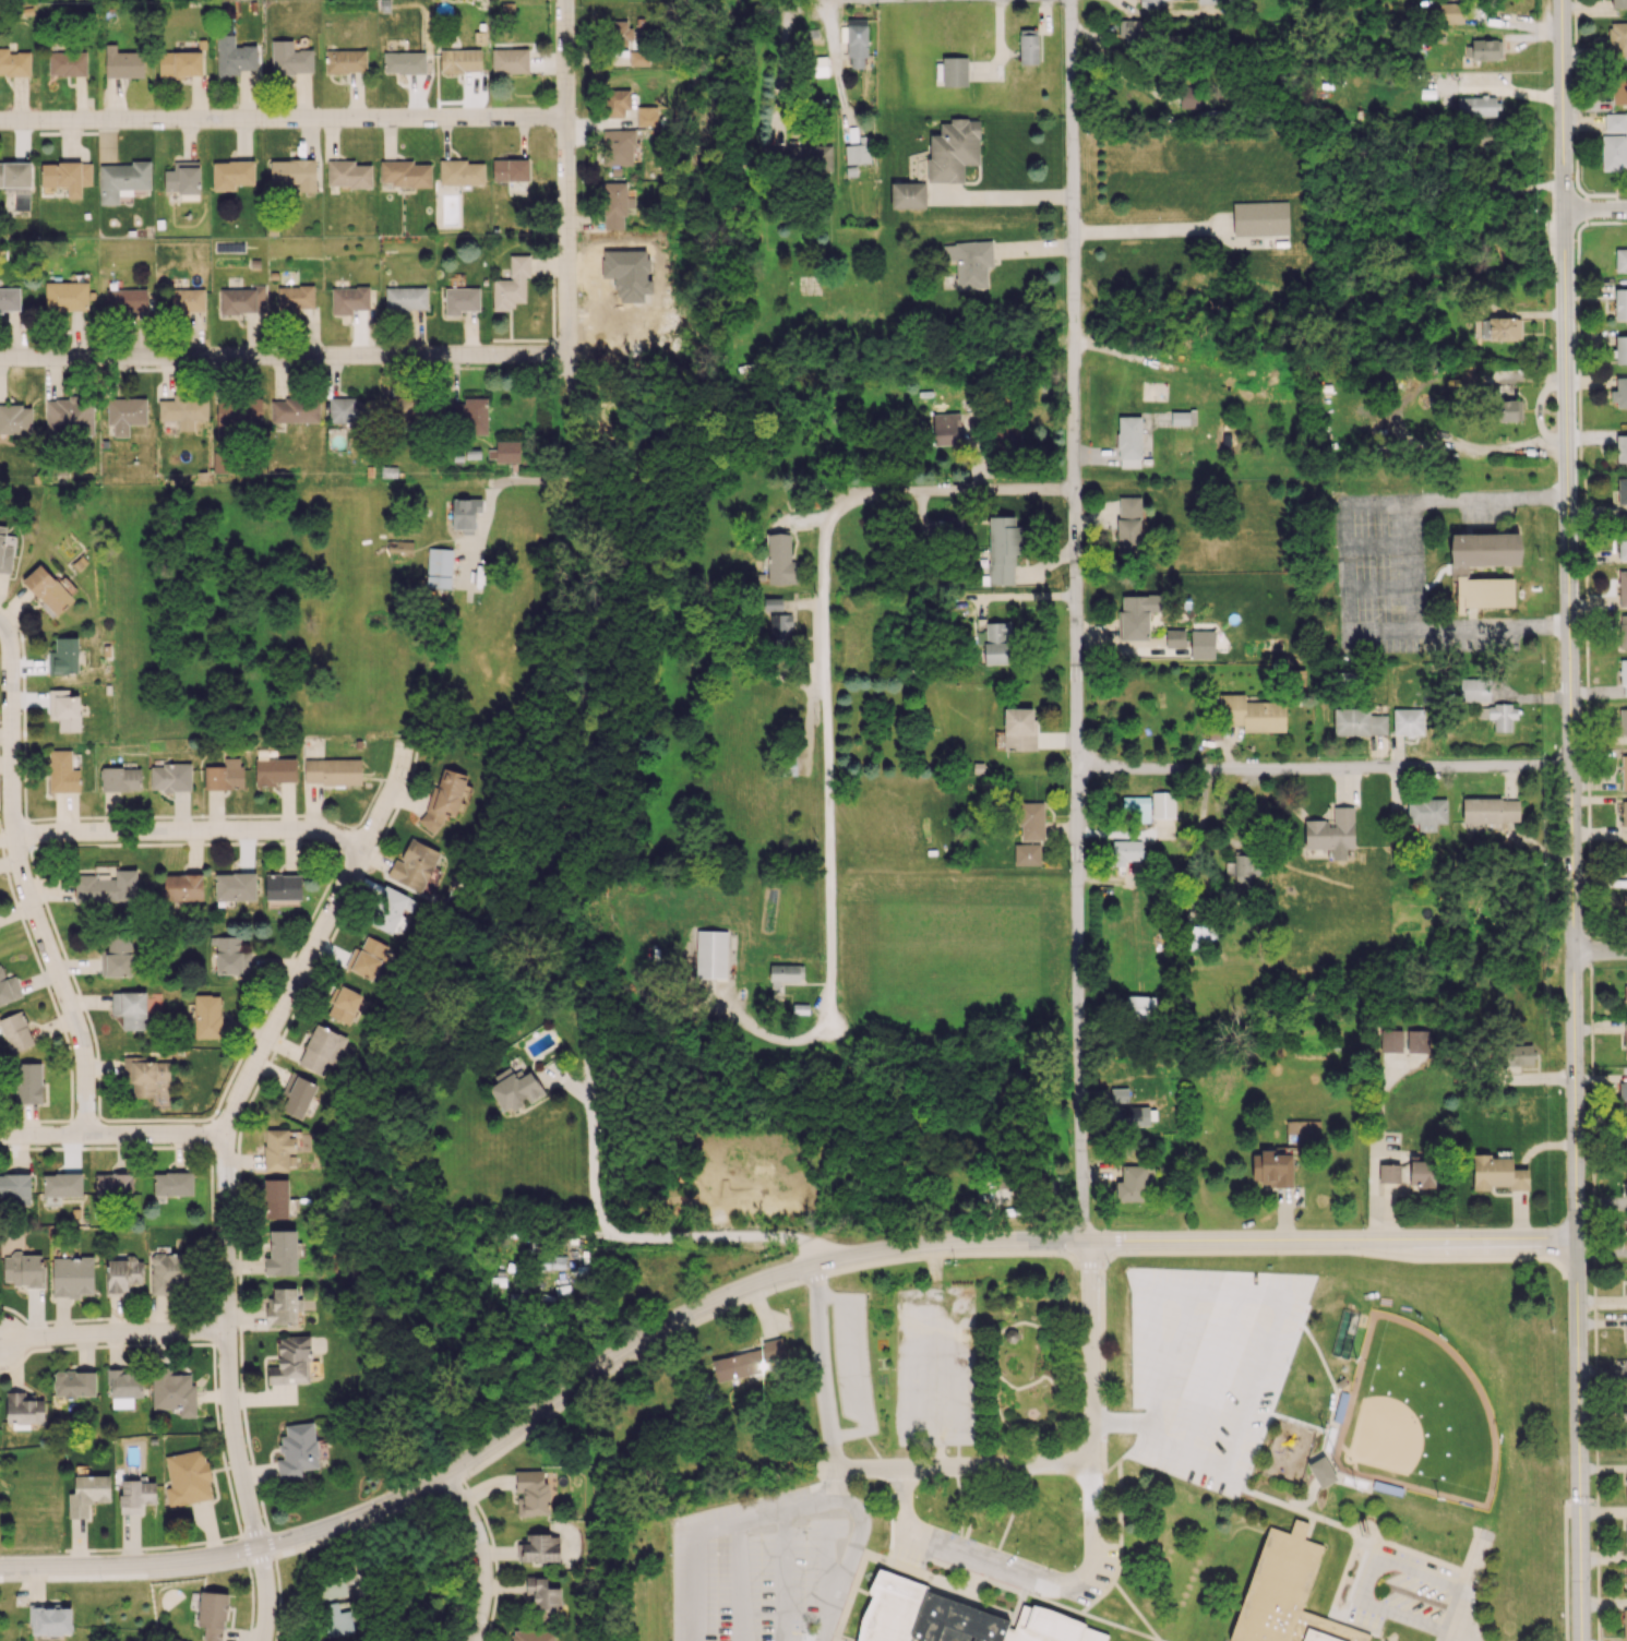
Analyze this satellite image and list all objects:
road: (884, 0)
road: (904, 0)
building: (1209, 1)
building: (1151, 3)
building: (1618, 3)
building: (1449, 12)
building: (1129, 29)
building: (619, 34)
building: (1617, 39)
building: (856, 43)
building: (1027, 46)
building: (1485, 49)
building: (235, 57)
building: (289, 58)
building: (637, 58)
building: (459, 60)
building: (345, 61)
building: (509, 61)
building: (14, 62)
building: (122, 62)
building: (404, 62)
building: (67, 63)
building: (179, 63)
road: (837, 68)
building: (954, 71)
building: (1618, 86)
building: (1188, 96)
building: (614, 103)
building: (1475, 106)
road: (1564, 107)
building: (649, 116)
road: (283, 120)
building: (1615, 122)
building: (1488, 139)
building: (619, 147)
building: (953, 149)
building: (1613, 152)
building: (857, 153)
building: (809, 156)
building: (510, 169)
building: (294, 172)
building: (460, 172)
building: (231, 173)
building: (347, 173)
building: (404, 173)
building: (15, 176)
building: (65, 176)
building: (182, 177)
building: (121, 179)
road: (1016, 193)
building: (907, 194)
building: (21, 201)
building: (614, 206)
road: (1595, 214)
road: (567, 218)
building: (1259, 218)
road: (1148, 229)
building: (1620, 260)
building: (969, 263)
building: (511, 284)
building: (65, 296)
building: (295, 297)
building: (405, 298)
building: (9, 299)
building: (348, 299)
building: (128, 300)
building: (187, 300)
building: (242, 300)
building: (460, 300)
building: (1620, 303)
building: (1499, 328)
building: (1619, 349)
road: (284, 358)
building: (1619, 393)
building: (1502, 404)
building: (183, 410)
building: (294, 410)
building: (344, 410)
building: (411, 411)
building: (124, 414)
building: (238, 414)
building: (466, 415)
building: (68, 416)
building: (1179, 418)
building: (15, 419)
building: (945, 429)
building: (1005, 435)
building: (1128, 442)
building: (1620, 448)
building: (506, 451)
building: (223, 462)
road: (530, 483)
building: (1622, 491)
road: (847, 506)
building: (465, 514)
building: (952, 523)
building: (1128, 526)
building: (1622, 542)
building: (399, 546)
building: (1002, 549)
building: (5, 550)
building: (779, 559)
road: (1400, 563)
building: (439, 567)
building: (1458, 572)
parking lot: (1405, 575)
building: (1622, 588)
building: (46, 590)
building: (1136, 615)
road: (1078, 621)
building: (775, 622)
building: (1623, 632)
building: (1174, 638)
building: (996, 643)
building: (1201, 644)
building: (63, 657)
building: (1624, 678)
building: (1474, 687)
building: (63, 709)
building: (1251, 714)
building: (1498, 715)
building: (1623, 720)
building: (1408, 721)
building: (1357, 722)
road: (1563, 727)
building: (1019, 729)
building: (274, 770)
road: (1321, 770)
building: (332, 771)
building: (1624, 771)
building: (62, 772)
building: (224, 775)
building: (170, 777)
building: (120, 779)
building: (444, 798)
building: (1162, 804)
building: (1490, 811)
building: (1426, 813)
building: (1624, 813)
building: (1030, 820)
building: (1330, 830)
road: (192, 831)
building: (1125, 851)
building: (1026, 854)
building: (1624, 859)
building: (416, 866)
building: (1242, 867)
road: (829, 882)
road: (27, 883)
building: (235, 886)
building: (283, 886)
building: (106, 887)
building: (182, 887)
building: (1625, 905)
building: (390, 909)
building: (1200, 936)
road: (1598, 951)
building: (227, 954)
building: (710, 954)
building: (117, 957)
building: (368, 957)
building: (783, 973)
building: (8, 989)
building: (1625, 994)
building: (344, 1004)
building: (1140, 1007)
building: (130, 1009)
building: (206, 1016)
building: (15, 1031)
building: (1625, 1040)
building: (1390, 1041)
building: (1416, 1041)
building: (321, 1050)
building: (1518, 1054)
building: (143, 1074)
building: (28, 1082)
building: (514, 1089)
building: (1118, 1094)
building: (1623, 1094)
building: (298, 1095)
building: (1129, 1117)
road: (228, 1134)
building: (1625, 1134)
road: (113, 1137)
building: (278, 1149)
building: (1272, 1166)
building: (1407, 1173)
building: (1497, 1173)
building: (1134, 1183)
building: (172, 1184)
building: (61, 1185)
building: (113, 1185)
building: (1626, 1185)
building: (14, 1187)
building: (275, 1198)
building: (1626, 1234)
road: (1335, 1242)
road: (632, 1244)
building: (282, 1253)
building: (554, 1263)
building: (23, 1269)
building: (165, 1272)
building: (122, 1275)
building: (72, 1277)
building: (1626, 1277)
road: (1283, 1303)
building: (282, 1307)
building: (1626, 1329)
road: (115, 1334)
road: (655, 1335)
road: (1093, 1354)
road: (934, 1358)
building: (291, 1361)
building: (749, 1361)
parking lot: (853, 1364)
parking lot: (934, 1366)
parking lot: (1209, 1367)
road: (1213, 1374)
building: (74, 1384)
building: (124, 1387)
building: (172, 1391)
building: (24, 1409)
park: (1417, 1417)
road: (1121, 1421)
building: (1625, 1433)
road: (1579, 1440)
building: (297, 1450)
road: (865, 1470)
building: (1325, 1472)
building: (187, 1477)
building: (1626, 1484)
building: (531, 1492)
building: (87, 1494)
building: (136, 1496)
road: (1579, 1499)
traffic signals: (1580, 1499)
road: (727, 1524)
building: (1626, 1531)
building: (539, 1548)
road: (481, 1556)
road: (848, 1560)
parking lot: (1007, 1565)
road: (131, 1567)
parking lot: (755, 1567)
building: (1626, 1568)
road: (1019, 1577)
road: (1369, 1579)
road: (1468, 1588)
parking lot: (1399, 1592)
building: (1284, 1594)
road: (267, 1596)
building: (542, 1597)
building: (335, 1608)
building: (212, 1615)
building: (955, 1618)
building: (50, 1620)
building: (1624, 1622)
building: (533, 1634)
road: (1455, 1638)

